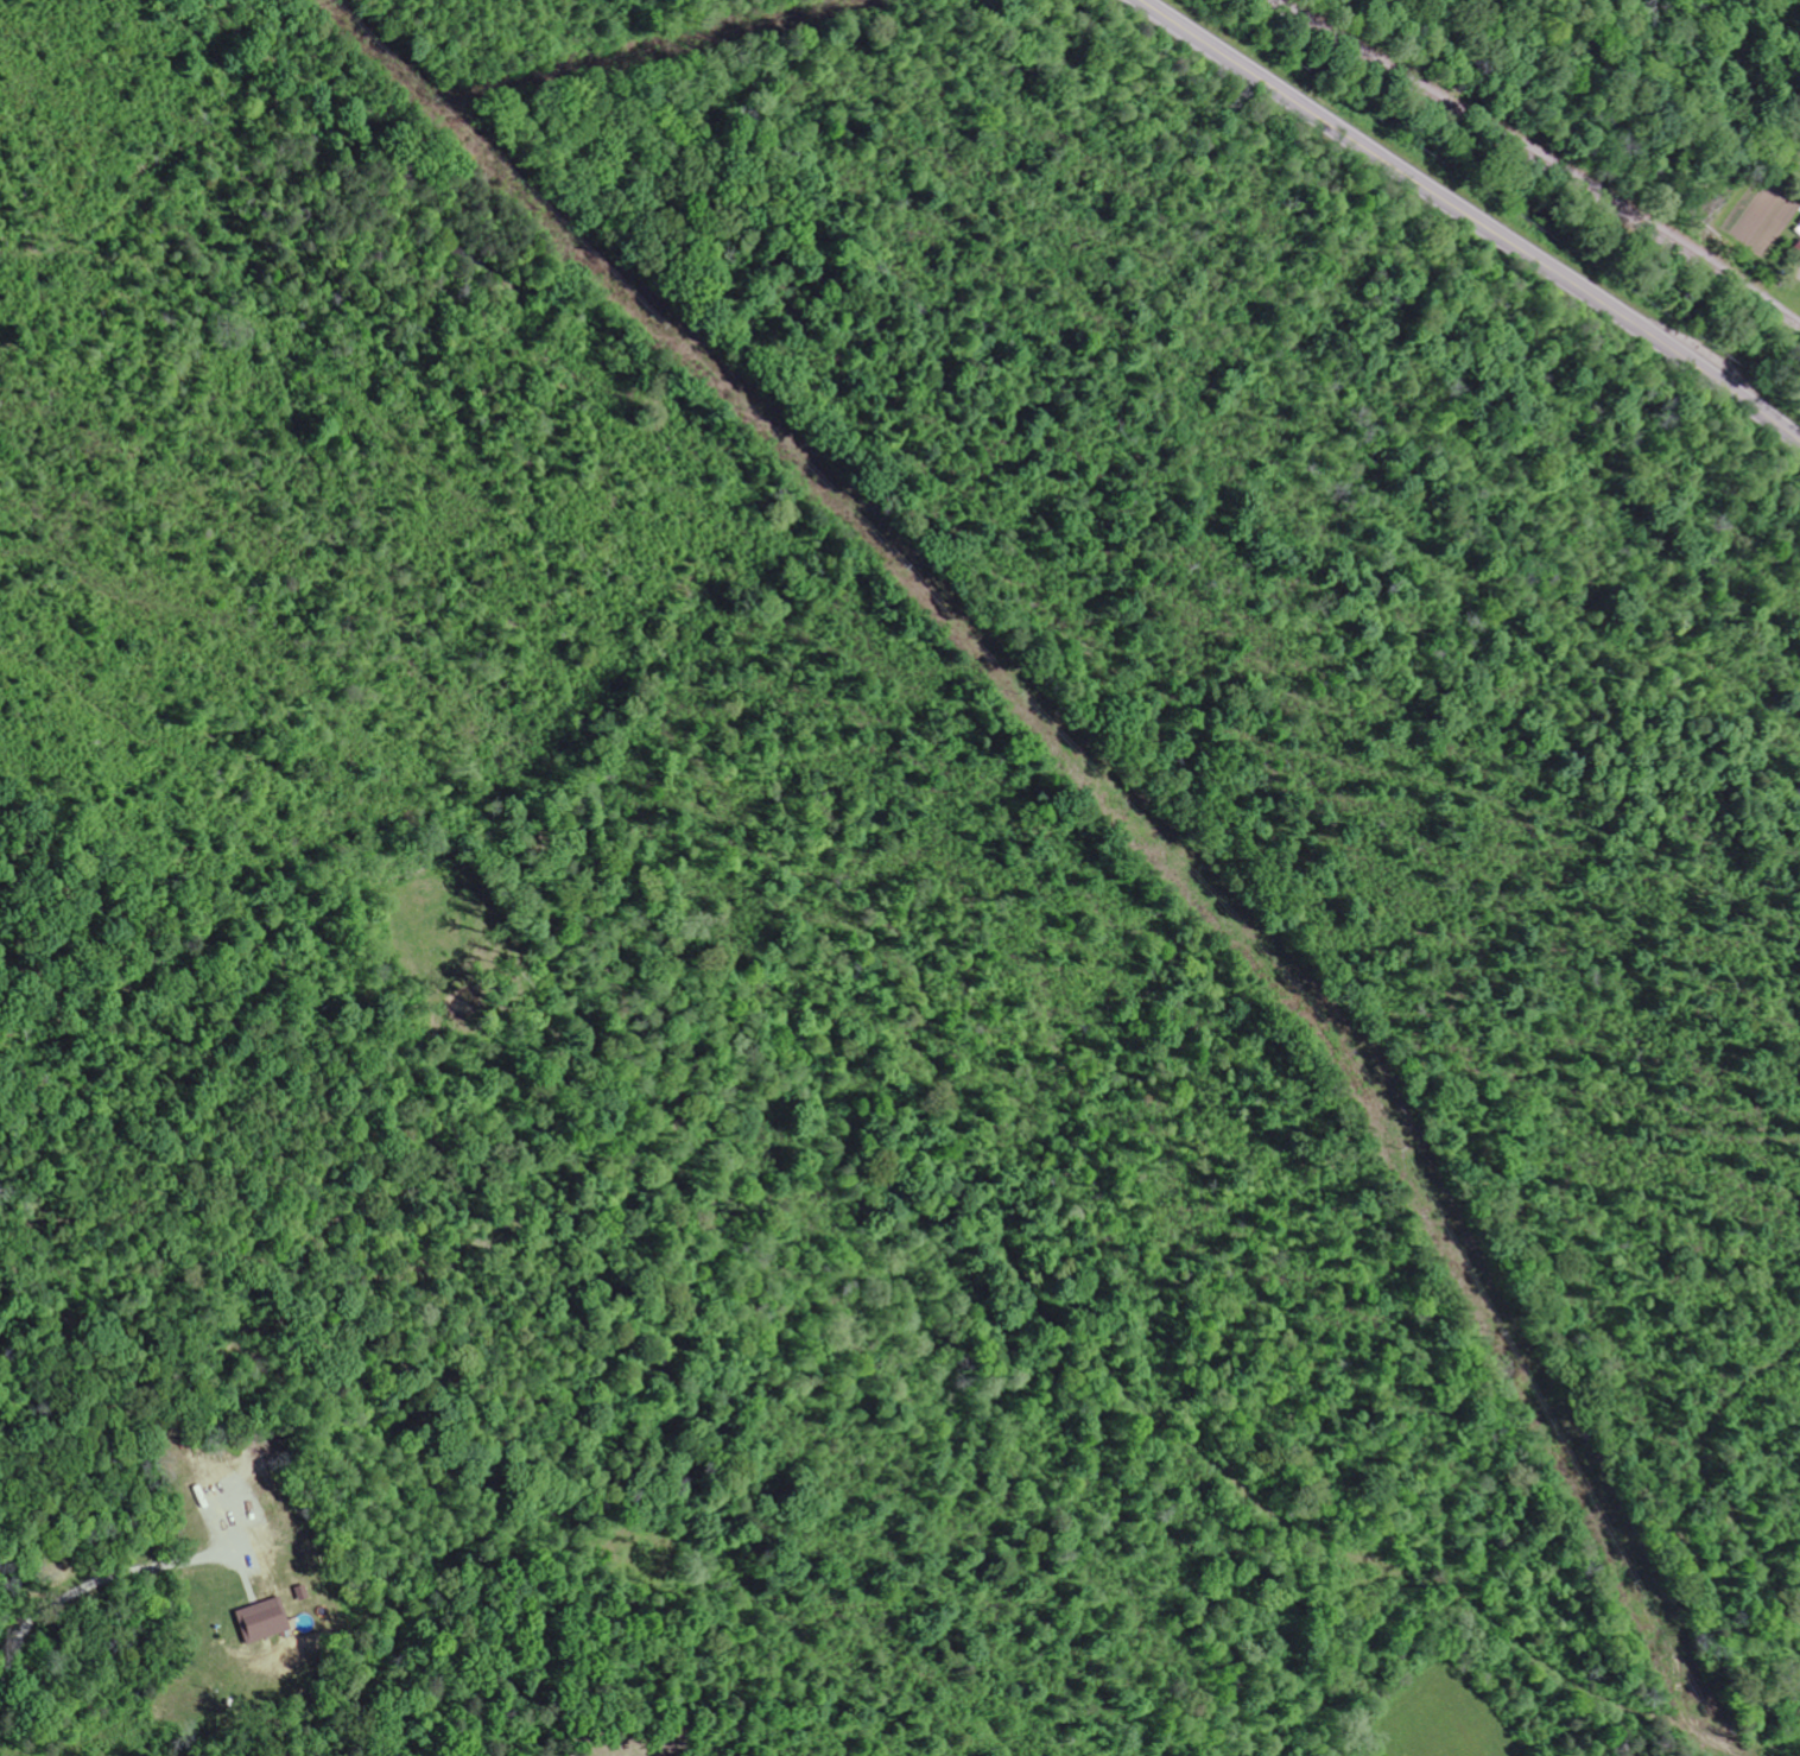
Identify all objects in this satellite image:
railway: (1538, 165)
road: (1473, 216)
building: (266, 1622)

